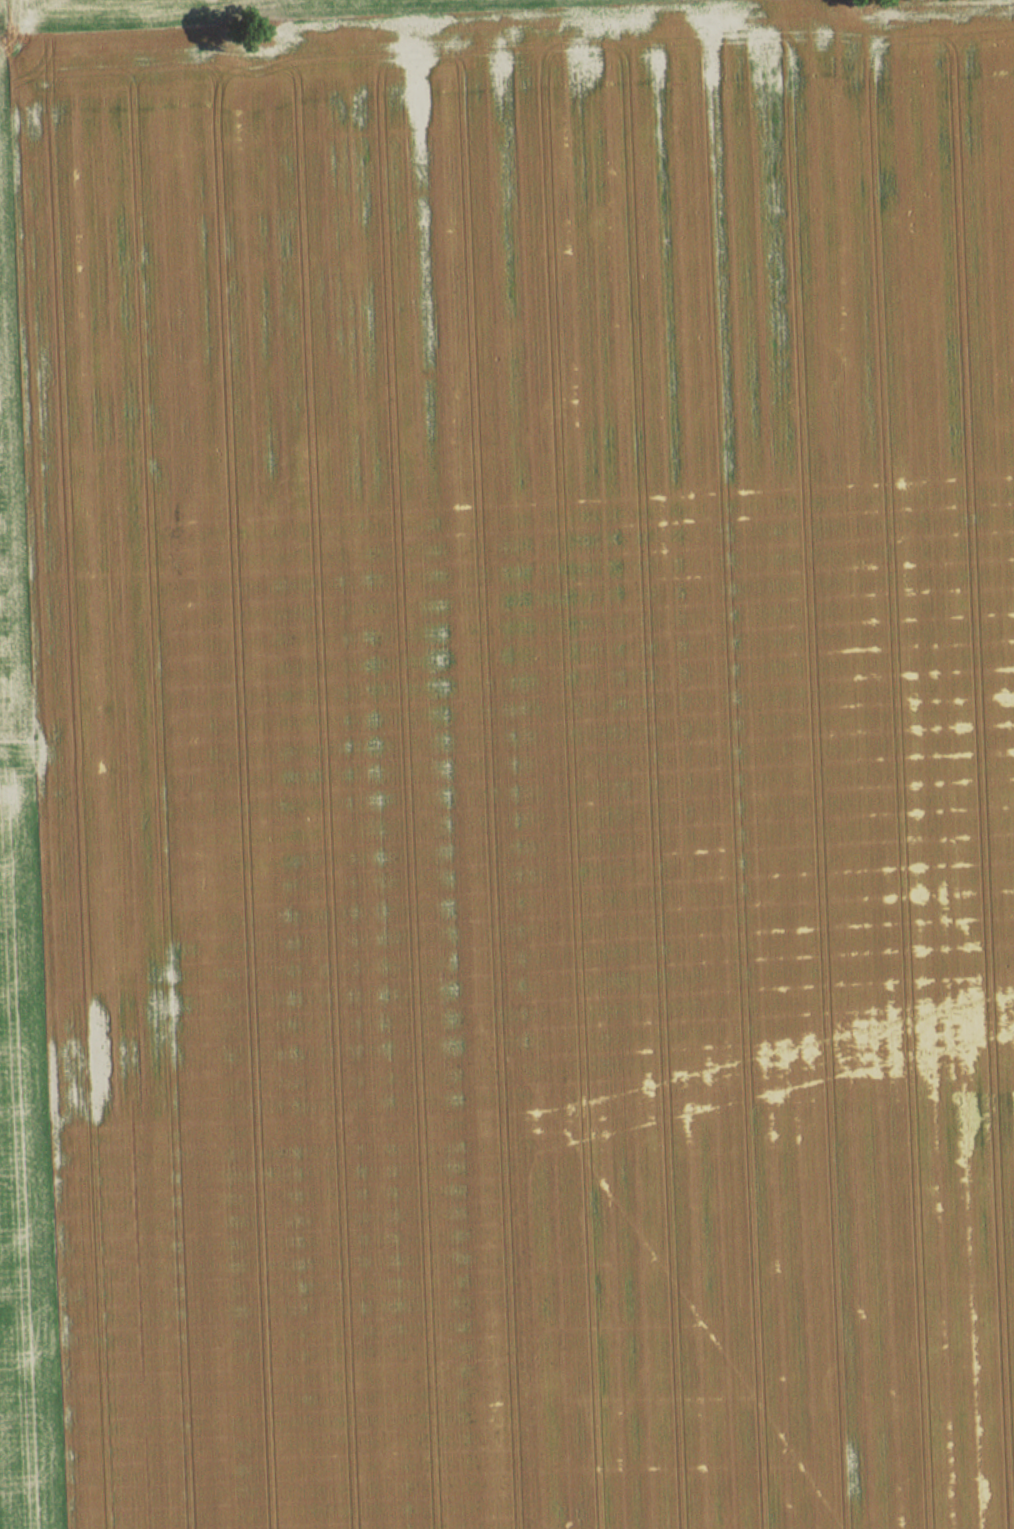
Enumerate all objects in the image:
crop: (216, 8)
crop: (508, 769)

